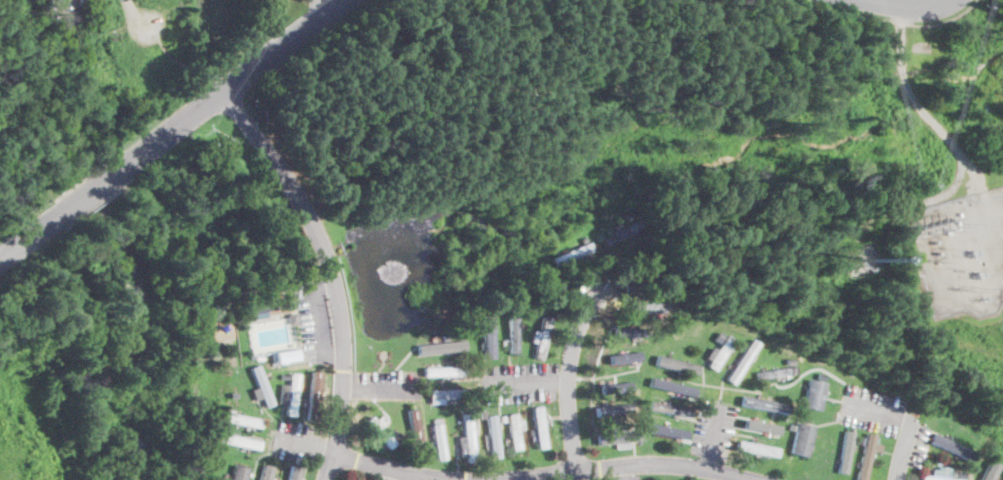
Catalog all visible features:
building: (56, 2)
road: (329, 5)
road: (911, 6)
road: (891, 21)
road: (307, 45)
road: (229, 85)
road: (95, 188)
building: (630, 214)
road: (38, 231)
building: (623, 233)
building: (572, 254)
road: (328, 256)
building: (637, 276)
building: (209, 291)
building: (647, 305)
building: (504, 306)
building: (262, 307)
building: (259, 316)
road: (317, 318)
building: (292, 319)
parking lot: (314, 322)
building: (514, 333)
building: (489, 336)
building: (718, 336)
building: (543, 338)
building: (440, 348)
building: (474, 353)
building: (721, 353)
building: (290, 355)
building: (624, 357)
building: (787, 361)
building: (743, 362)
building: (676, 364)
building: (442, 372)
building: (778, 374)
building: (822, 375)
building: (285, 376)
road: (569, 378)
parking lot: (519, 381)
road: (527, 382)
parking lot: (387, 383)
building: (263, 385)
building: (615, 386)
building: (674, 387)
road: (371, 388)
building: (315, 393)
building: (814, 393)
building: (233, 394)
building: (290, 394)
building: (444, 394)
building: (766, 405)
building: (612, 408)
building: (670, 408)
parking lot: (872, 408)
road: (880, 413)
building: (483, 415)
building: (436, 419)
building: (504, 419)
building: (241, 420)
building: (762, 425)
building: (539, 426)
building: (622, 427)
parking lot: (714, 427)
building: (792, 428)
building: (670, 431)
building: (380, 432)
building: (515, 432)
building: (416, 433)
building: (397, 436)
building: (493, 437)
building: (618, 437)
road: (713, 437)
building: (801, 438)
building: (860, 439)
building: (469, 440)
building: (240, 441)
building: (203, 442)
parking lot: (298, 442)
building: (439, 442)
road: (307, 445)
building: (876, 446)
building: (951, 446)
road: (906, 447)
building: (758, 448)
building: (845, 452)
building: (866, 456)
building: (980, 462)
road: (618, 465)
road: (329, 466)
road: (395, 468)
building: (990, 471)
building: (239, 472)
building: (265, 472)
road: (622, 472)
building: (297, 474)
building: (939, 476)
parking lot: (623, 477)

